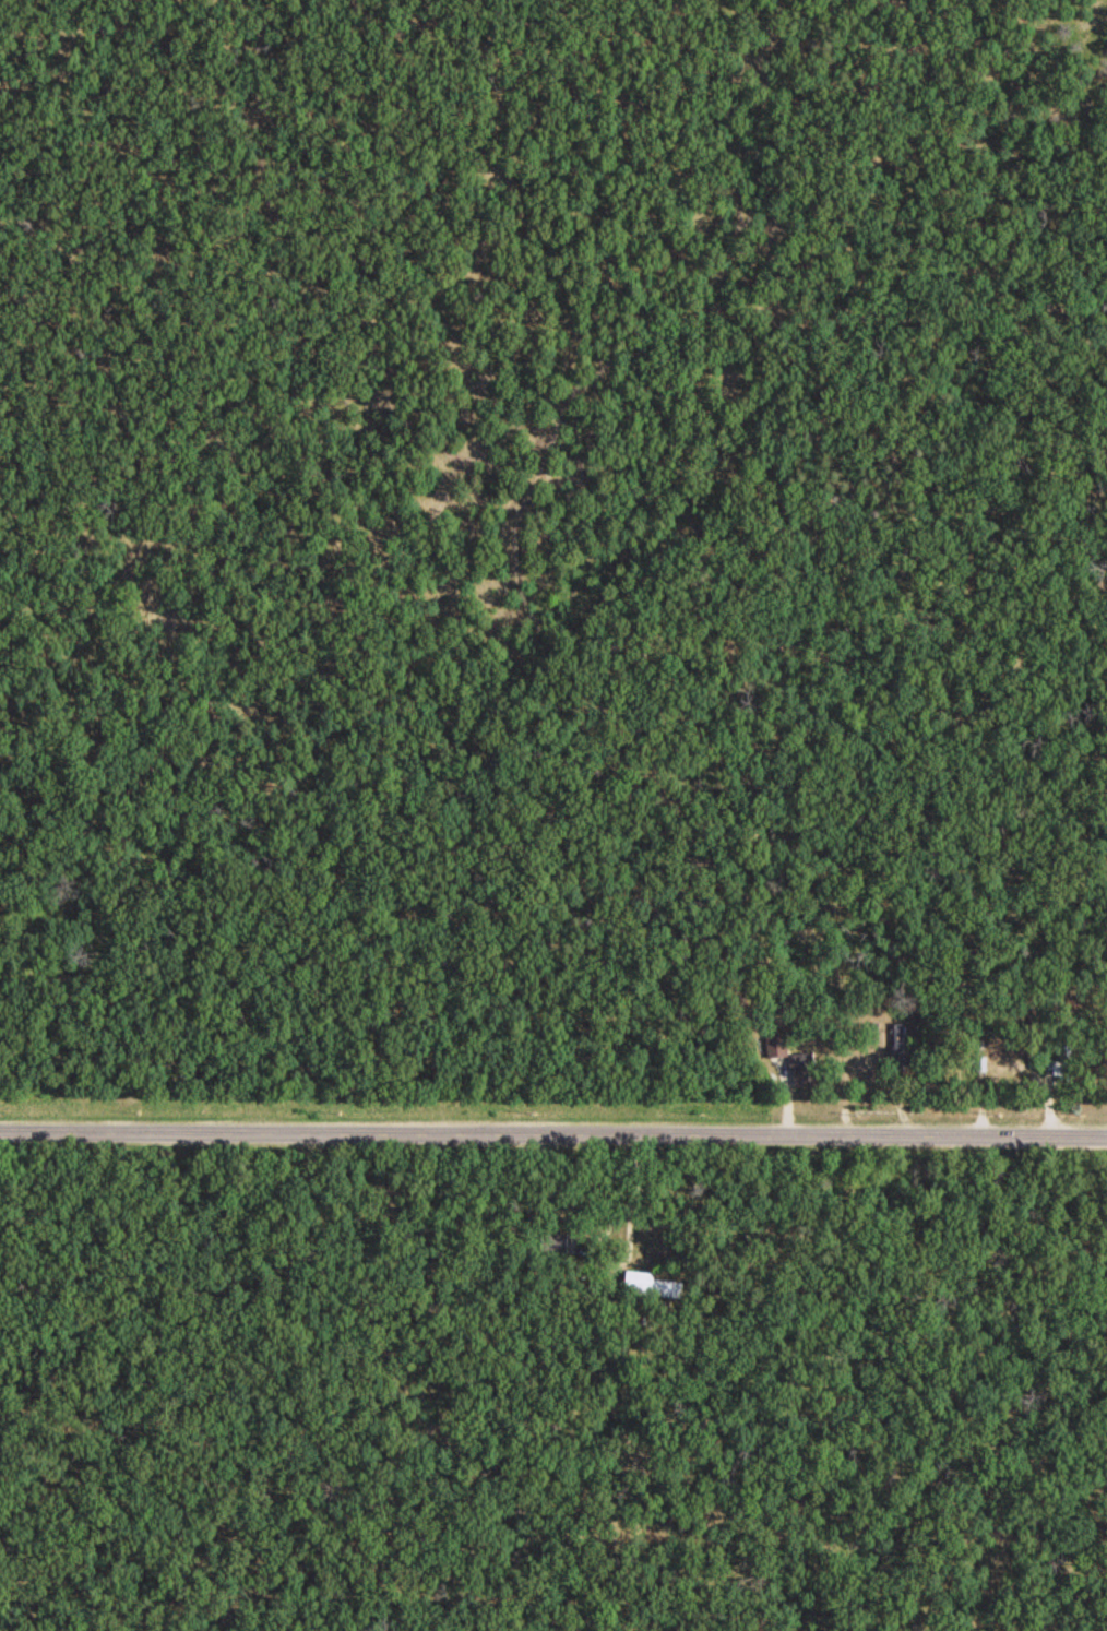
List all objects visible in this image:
building: (898, 1043)
building: (777, 1045)
building: (1063, 1062)
building: (800, 1068)
road: (553, 1132)
building: (551, 1240)
building: (652, 1283)

